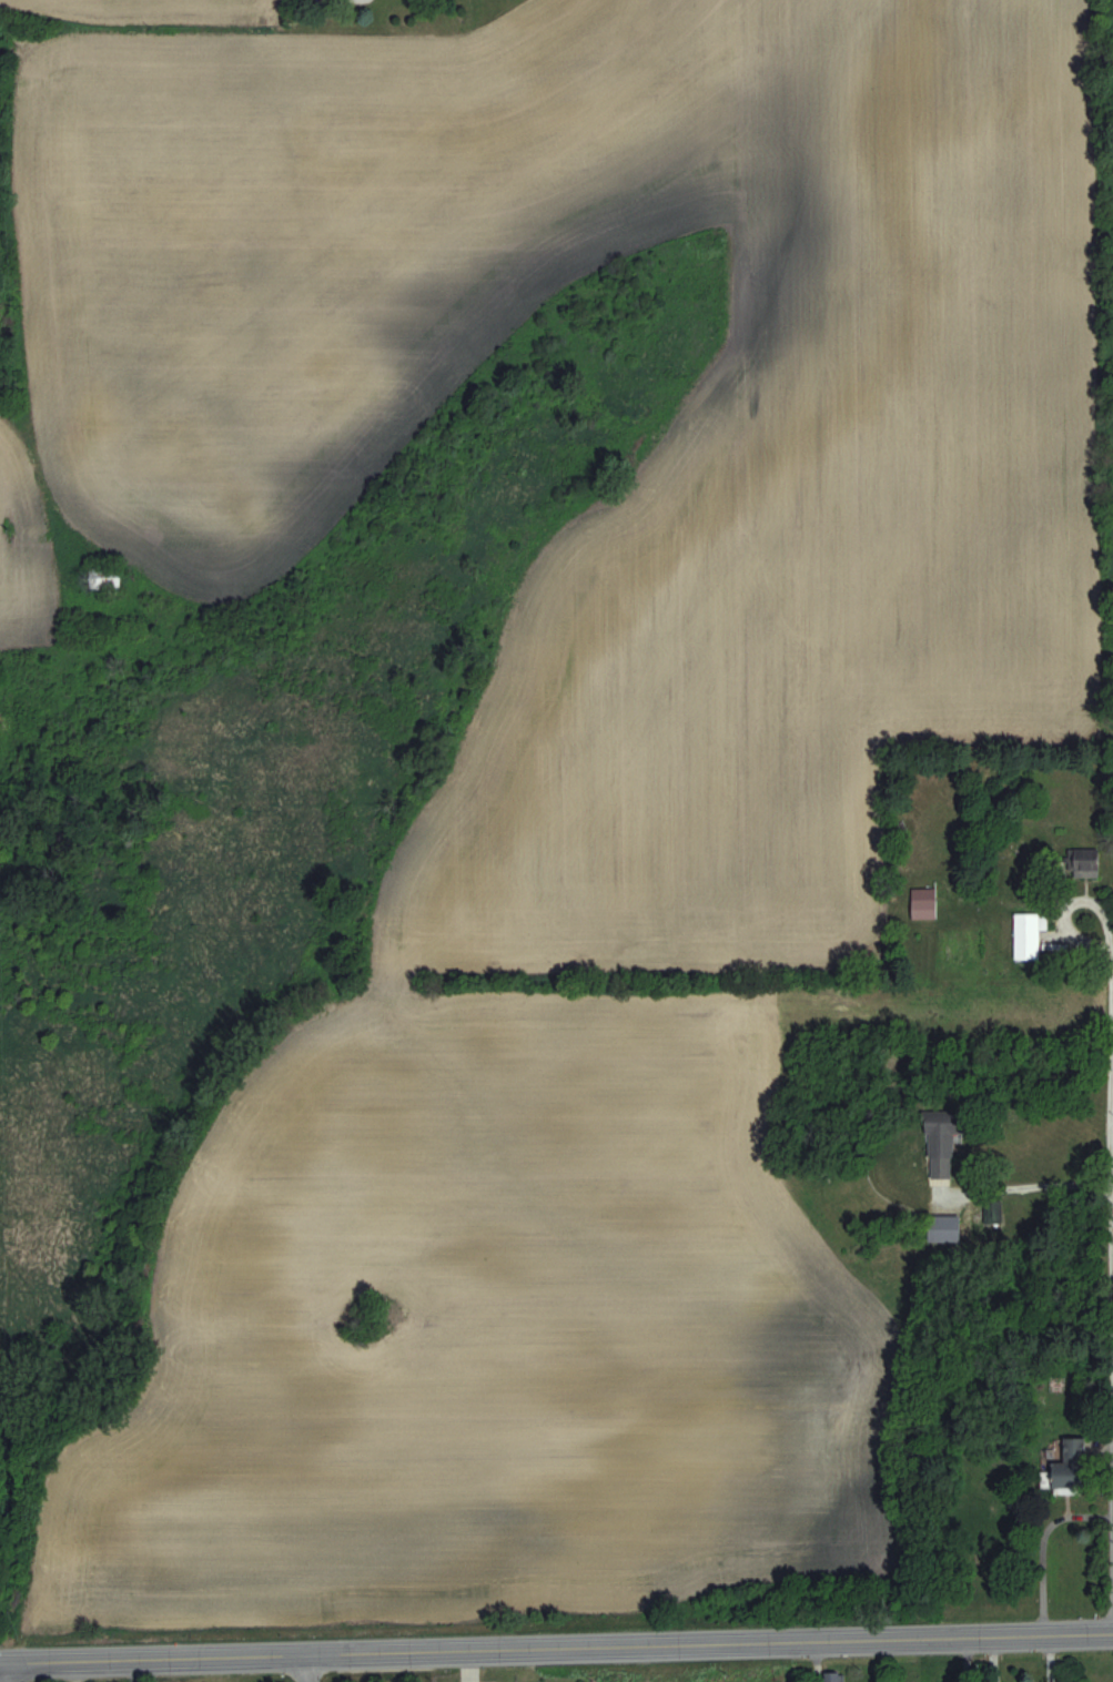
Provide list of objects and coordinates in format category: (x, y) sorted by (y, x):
building: (1083, 861)
building: (924, 902)
building: (1026, 934)
road: (1074, 935)
building: (941, 1144)
road: (1023, 1188)
building: (993, 1210)
road: (1109, 1253)
building: (1071, 1467)
road: (1039, 1550)
road: (556, 1652)
road: (302, 1671)
building: (834, 1676)
building: (945, 1679)

